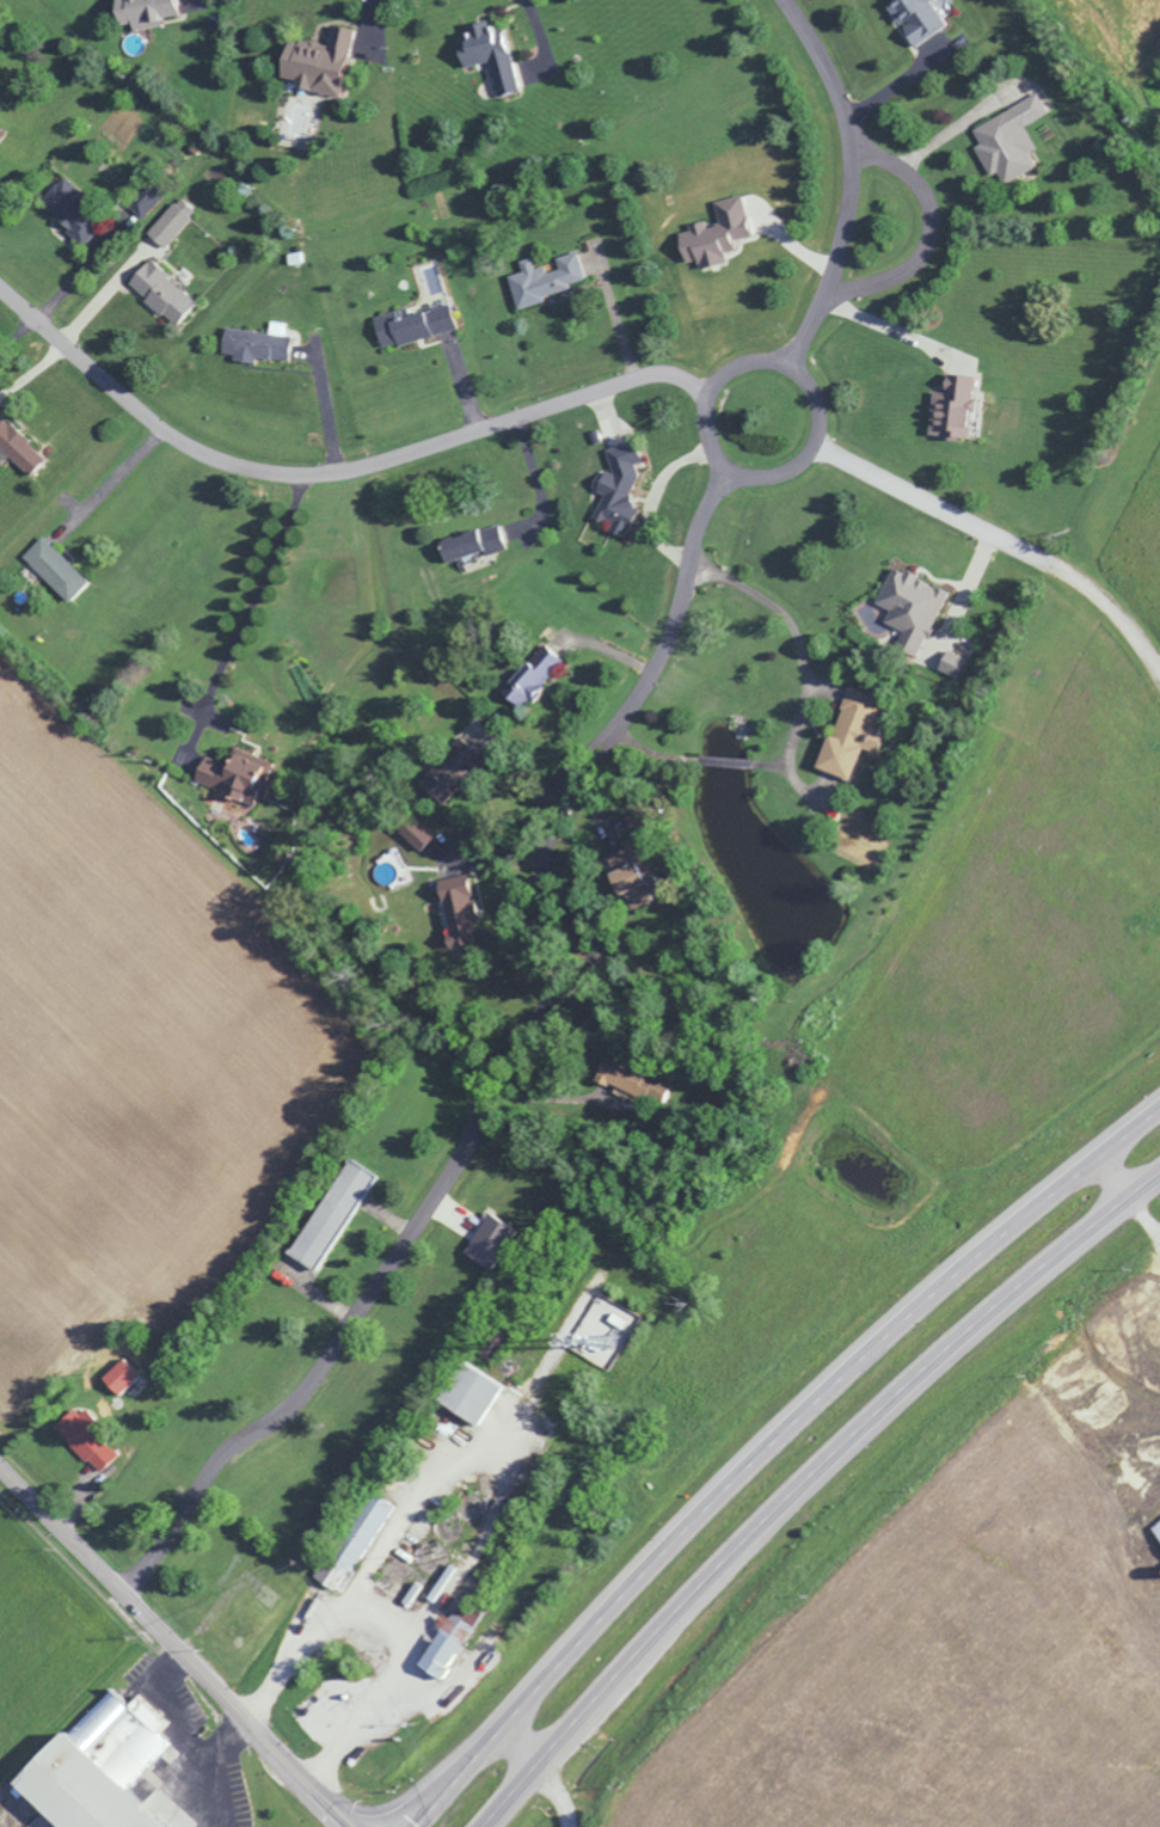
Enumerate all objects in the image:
building: (141, 12)
building: (915, 18)
road: (540, 24)
building: (487, 54)
road: (894, 94)
building: (1, 133)
building: (1007, 140)
road: (846, 180)
building: (141, 201)
building: (67, 209)
building: (170, 221)
building: (714, 233)
road: (925, 240)
building: (545, 278)
building: (160, 292)
building: (411, 326)
road: (896, 327)
building: (254, 343)
road: (335, 407)
building: (951, 409)
road: (812, 442)
building: (18, 448)
road: (331, 471)
road: (108, 480)
building: (616, 493)
road: (996, 537)
building: (469, 544)
building: (54, 569)
road: (265, 596)
building: (912, 609)
road: (811, 654)
building: (952, 663)
building: (529, 681)
building: (846, 735)
building: (452, 774)
building: (415, 833)
building: (621, 871)
building: (636, 896)
building: (456, 914)
road: (498, 1057)
building: (619, 1075)
road: (1104, 1179)
building: (329, 1212)
building: (489, 1240)
building: (117, 1375)
building: (467, 1392)
building: (84, 1440)
road: (765, 1442)
road: (808, 1485)
building: (1155, 1529)
building: (364, 1534)
road: (383, 1630)
building: (447, 1638)
road: (174, 1648)
road: (188, 1737)
road: (223, 1740)
road: (520, 1742)
building: (102, 1771)
road: (554, 1795)

